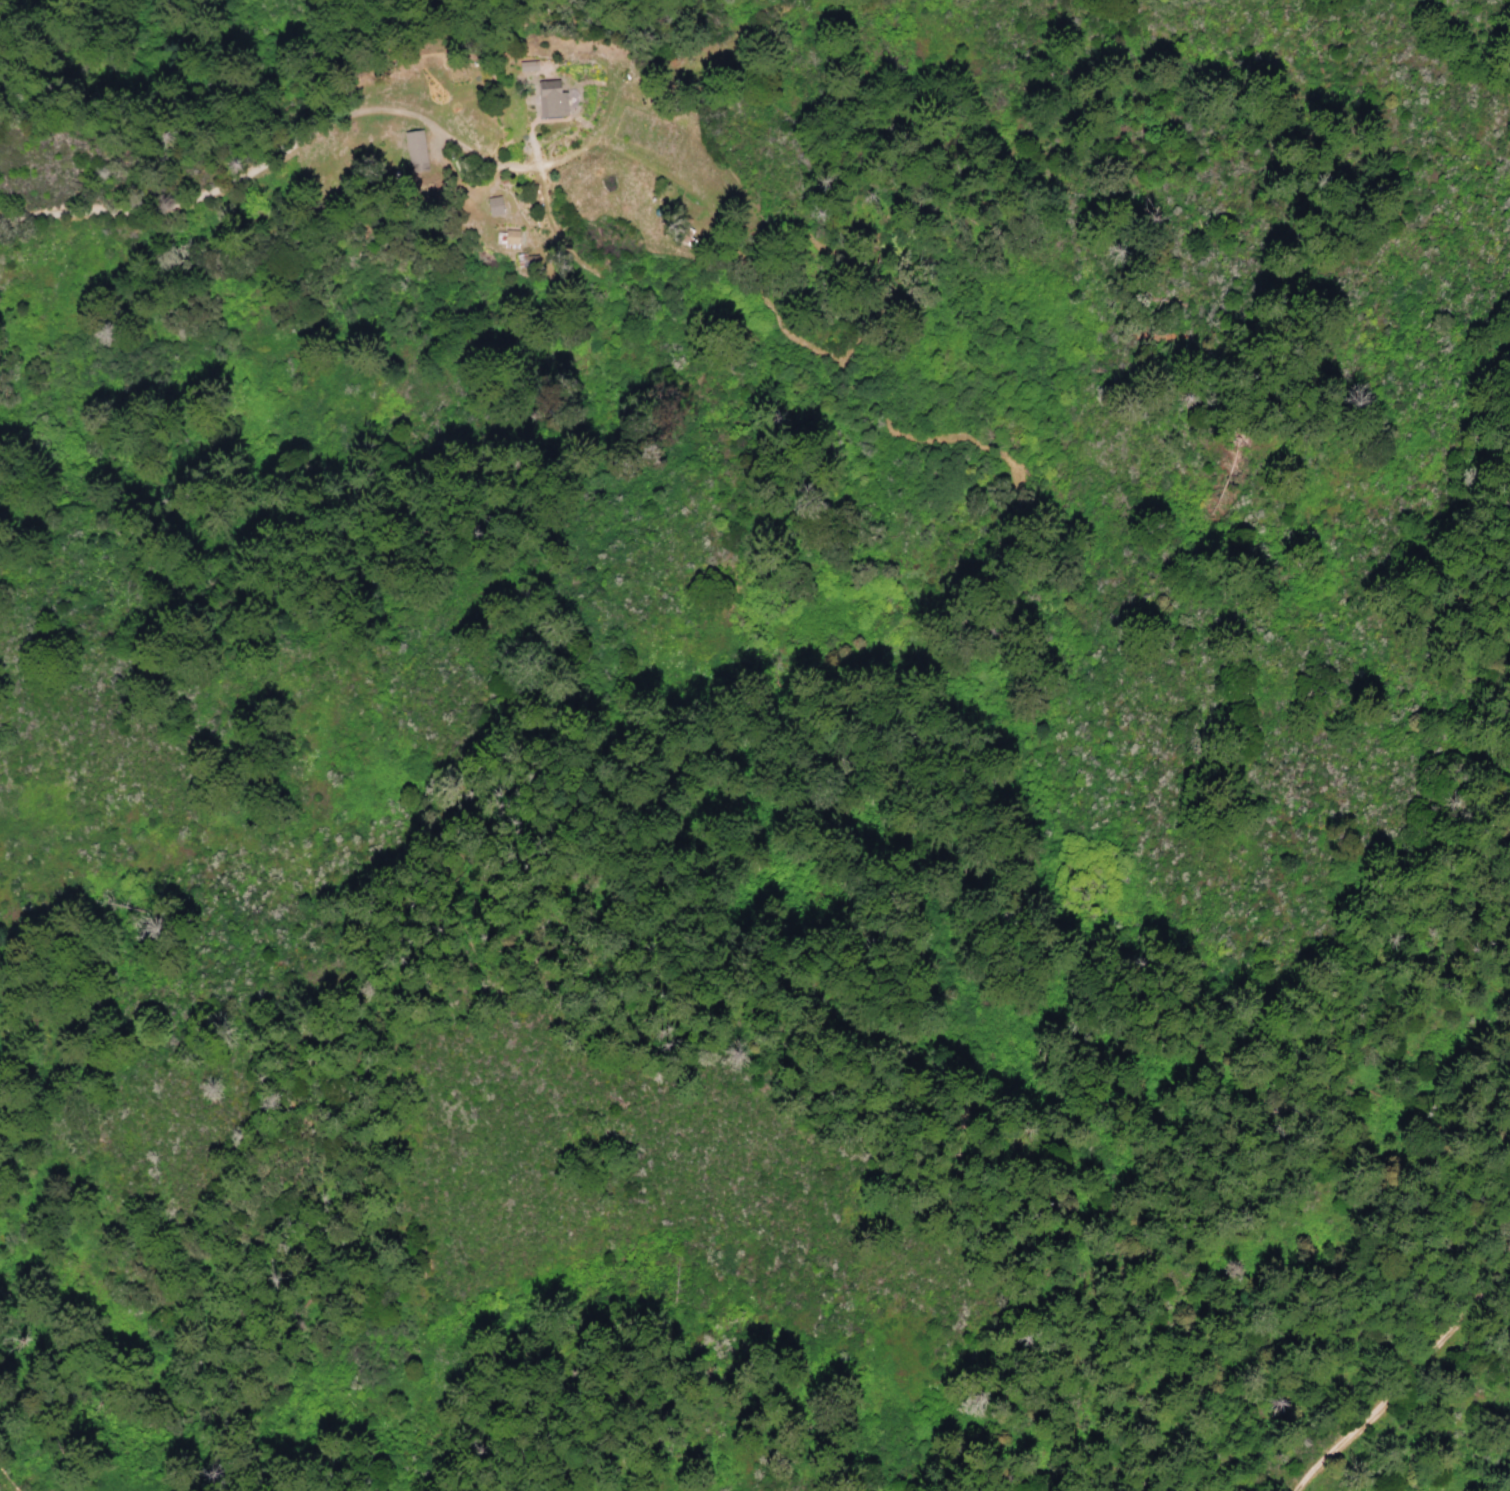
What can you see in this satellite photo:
building: (529, 66)
building: (553, 99)
road: (296, 142)
building: (496, 206)
building: (511, 239)
road: (1410, 1377)

